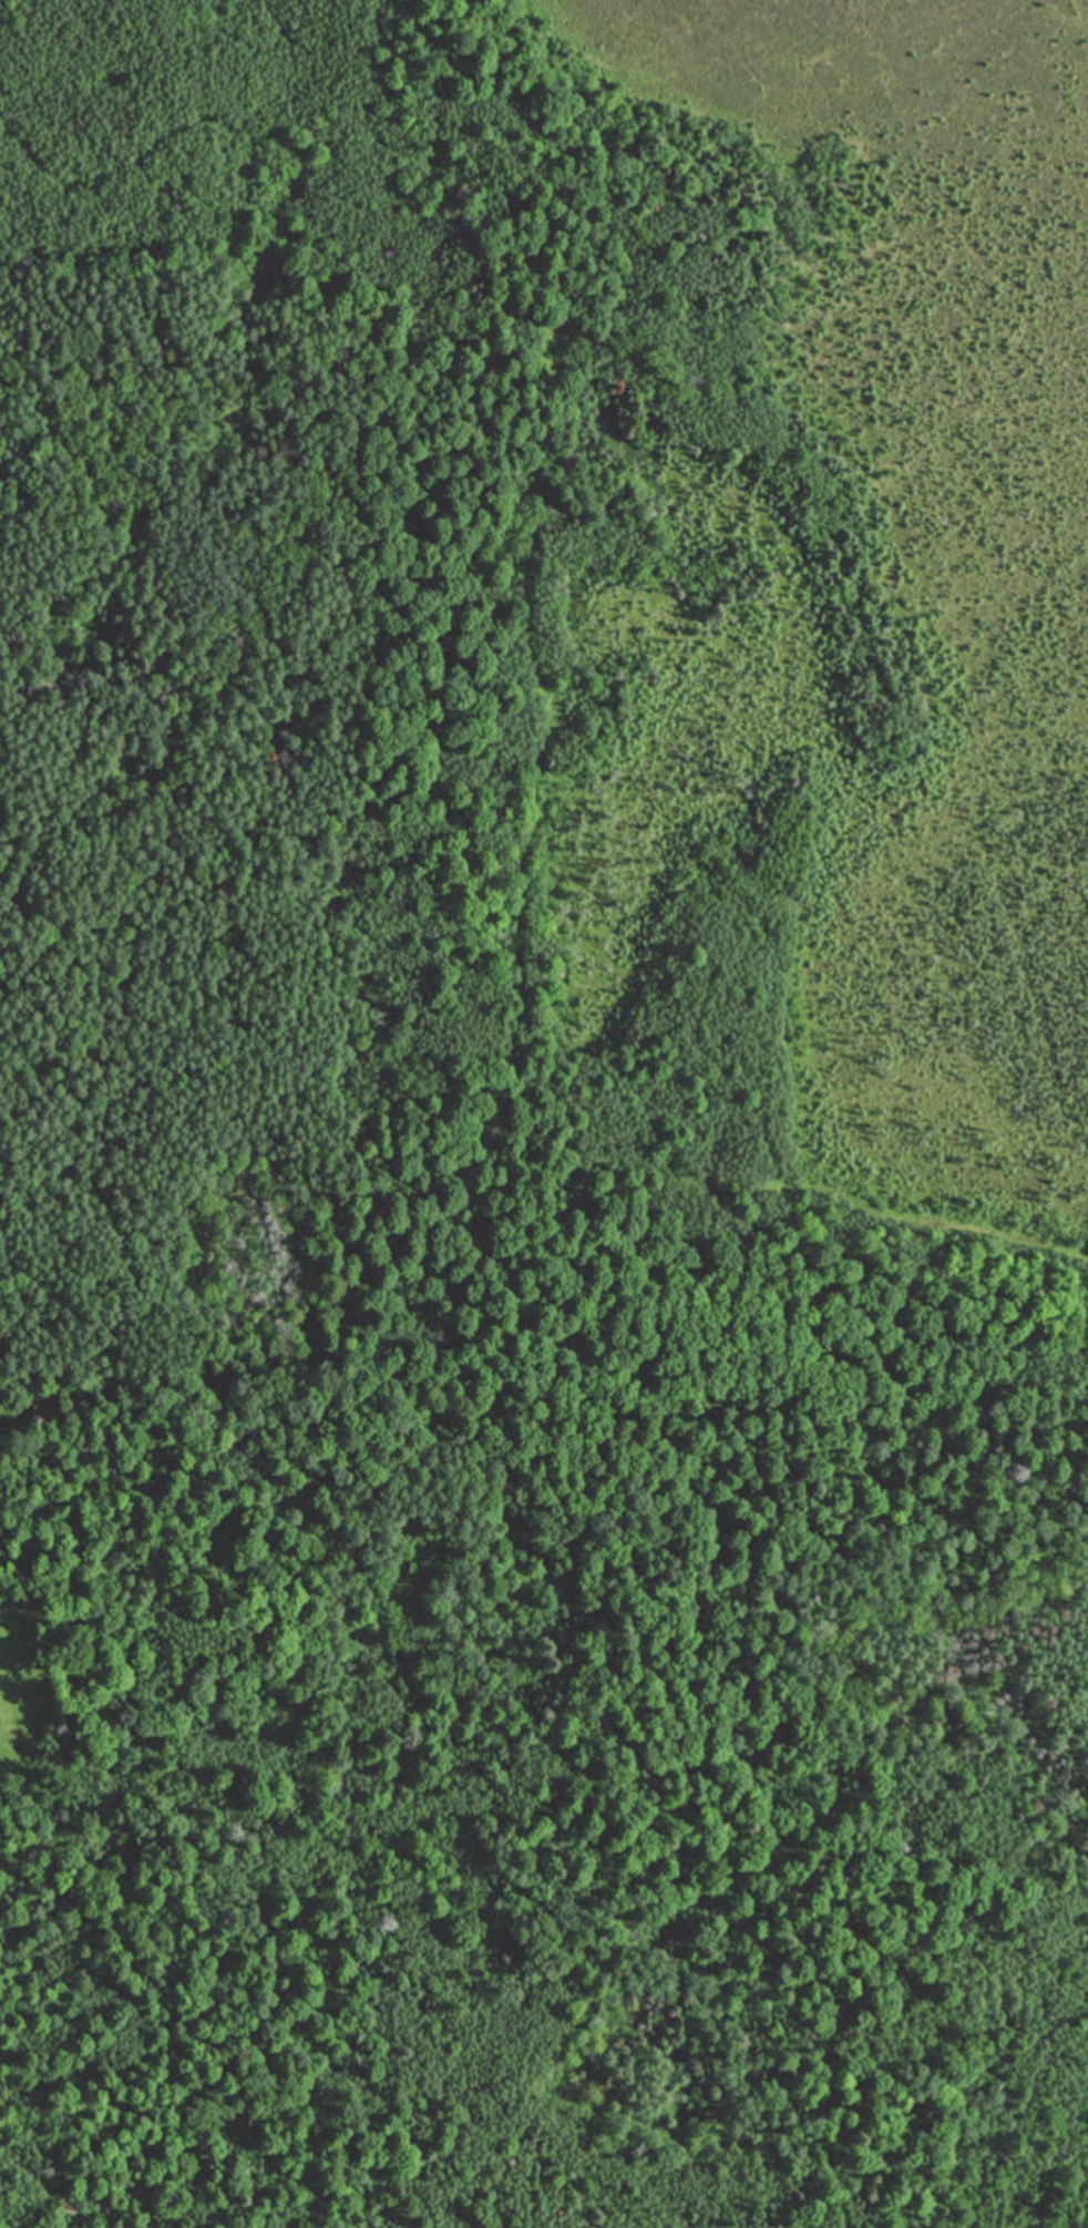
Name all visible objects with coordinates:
road: (503, 1166)
road: (45, 2187)

